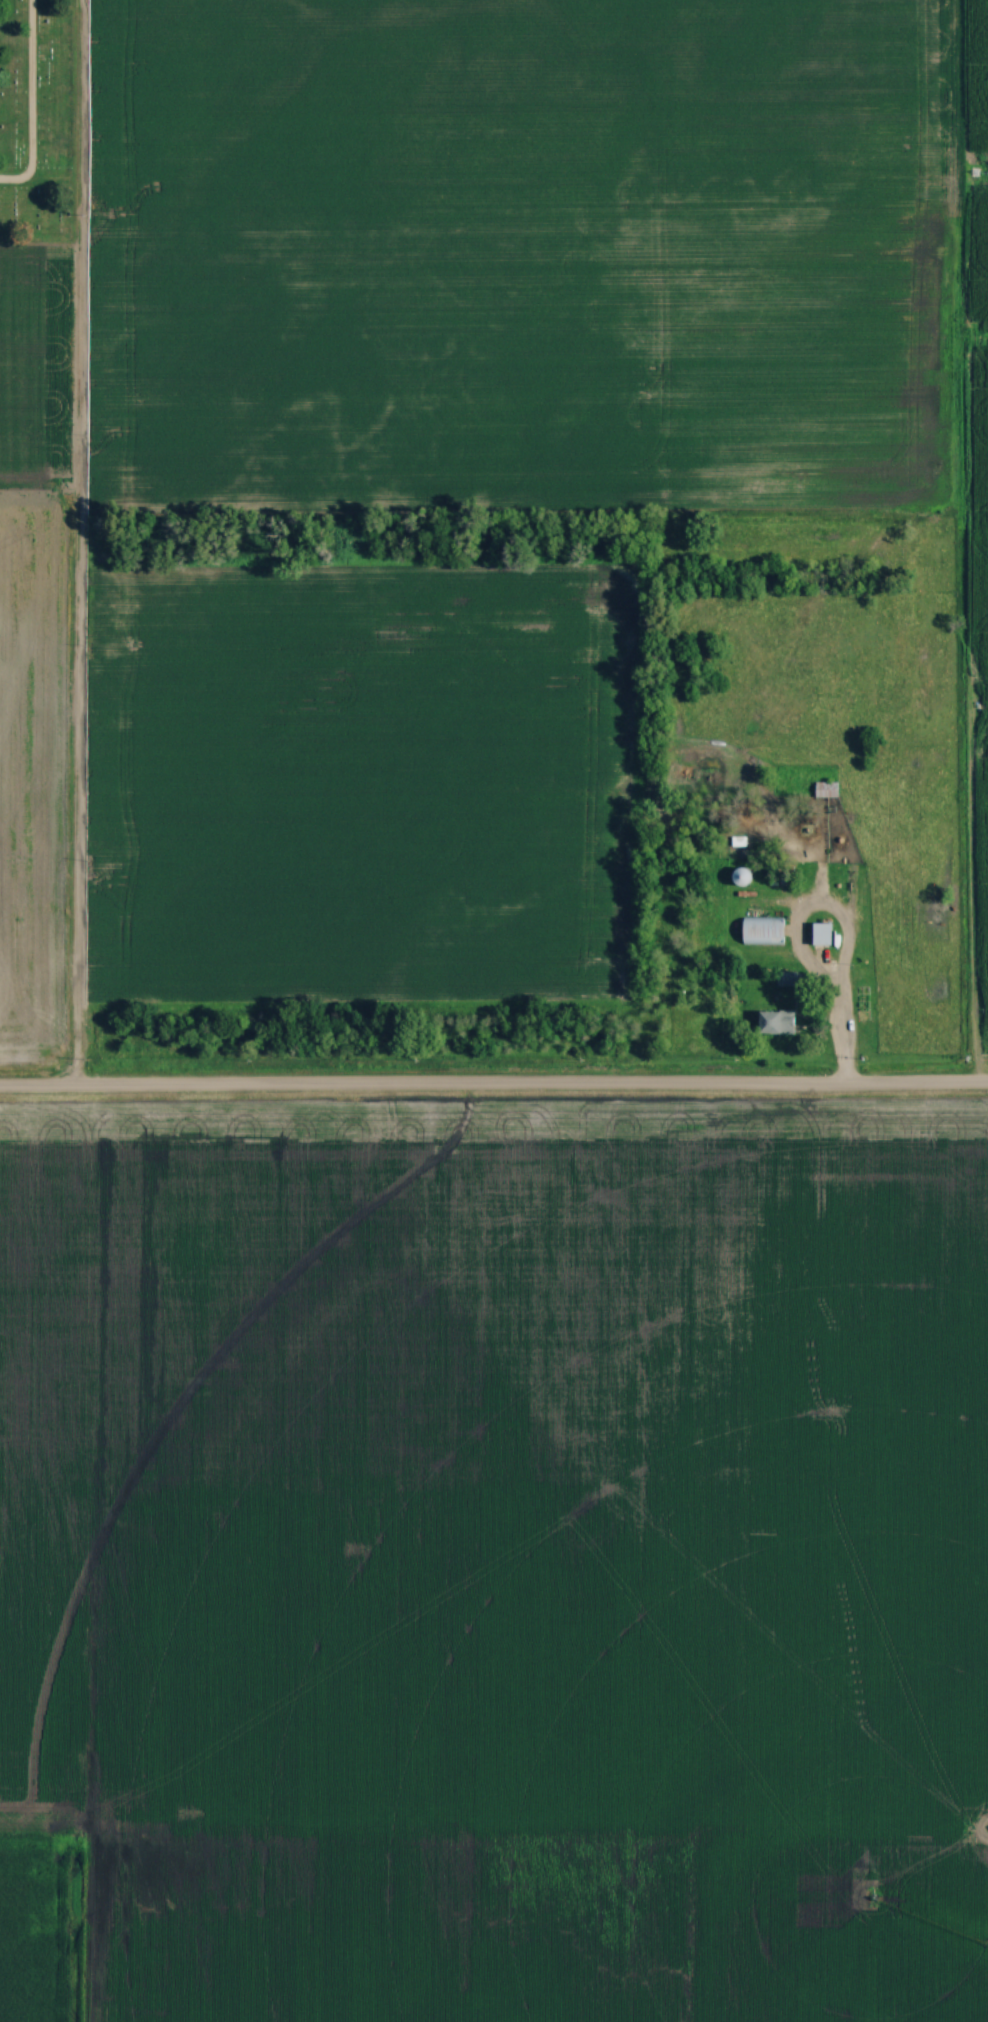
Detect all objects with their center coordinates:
road: (27, 102)
park: (39, 121)
building: (104, 560)
building: (826, 789)
building: (742, 877)
building: (763, 931)
road: (845, 931)
building: (821, 934)
building: (787, 979)
building: (777, 1023)
road: (840, 1037)
road: (494, 1091)

